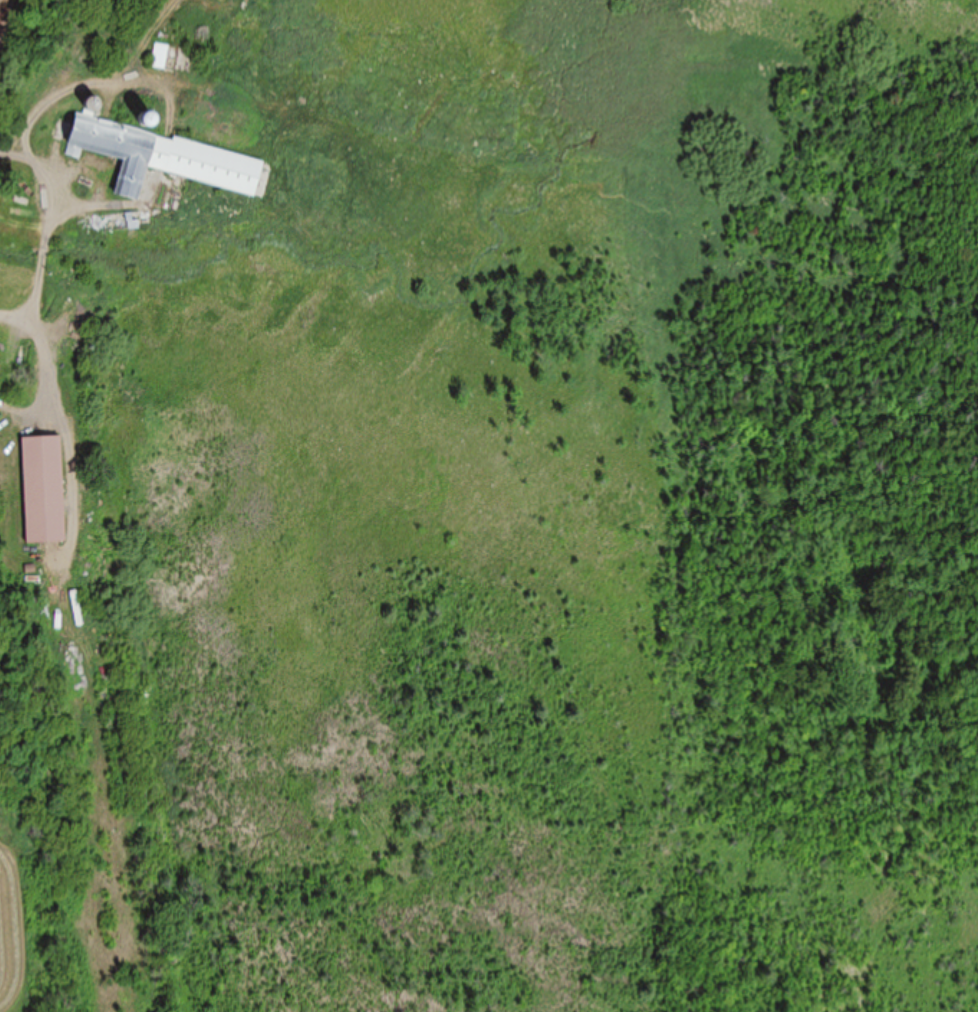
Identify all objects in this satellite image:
road: (0, 0)
building: (159, 57)
building: (182, 61)
building: (160, 158)
building: (124, 221)
building: (42, 490)

